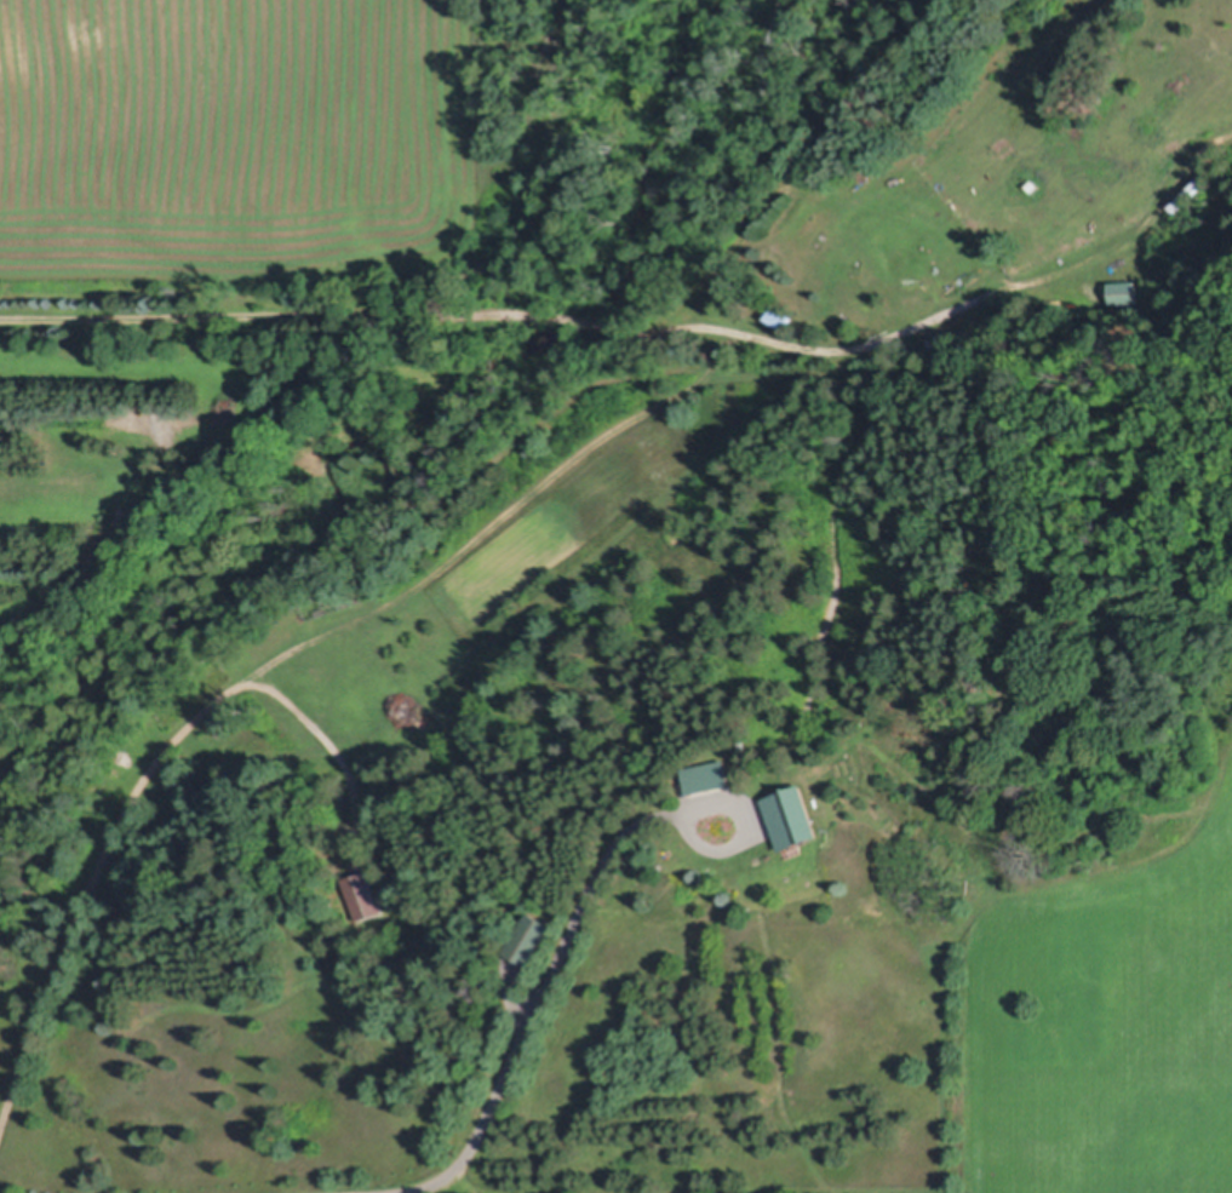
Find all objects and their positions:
building: (1031, 185)
building: (717, 289)
building: (1122, 292)
building: (778, 317)
building: (933, 334)
building: (707, 778)
building: (791, 816)
building: (360, 895)
building: (529, 939)
road: (537, 1011)

